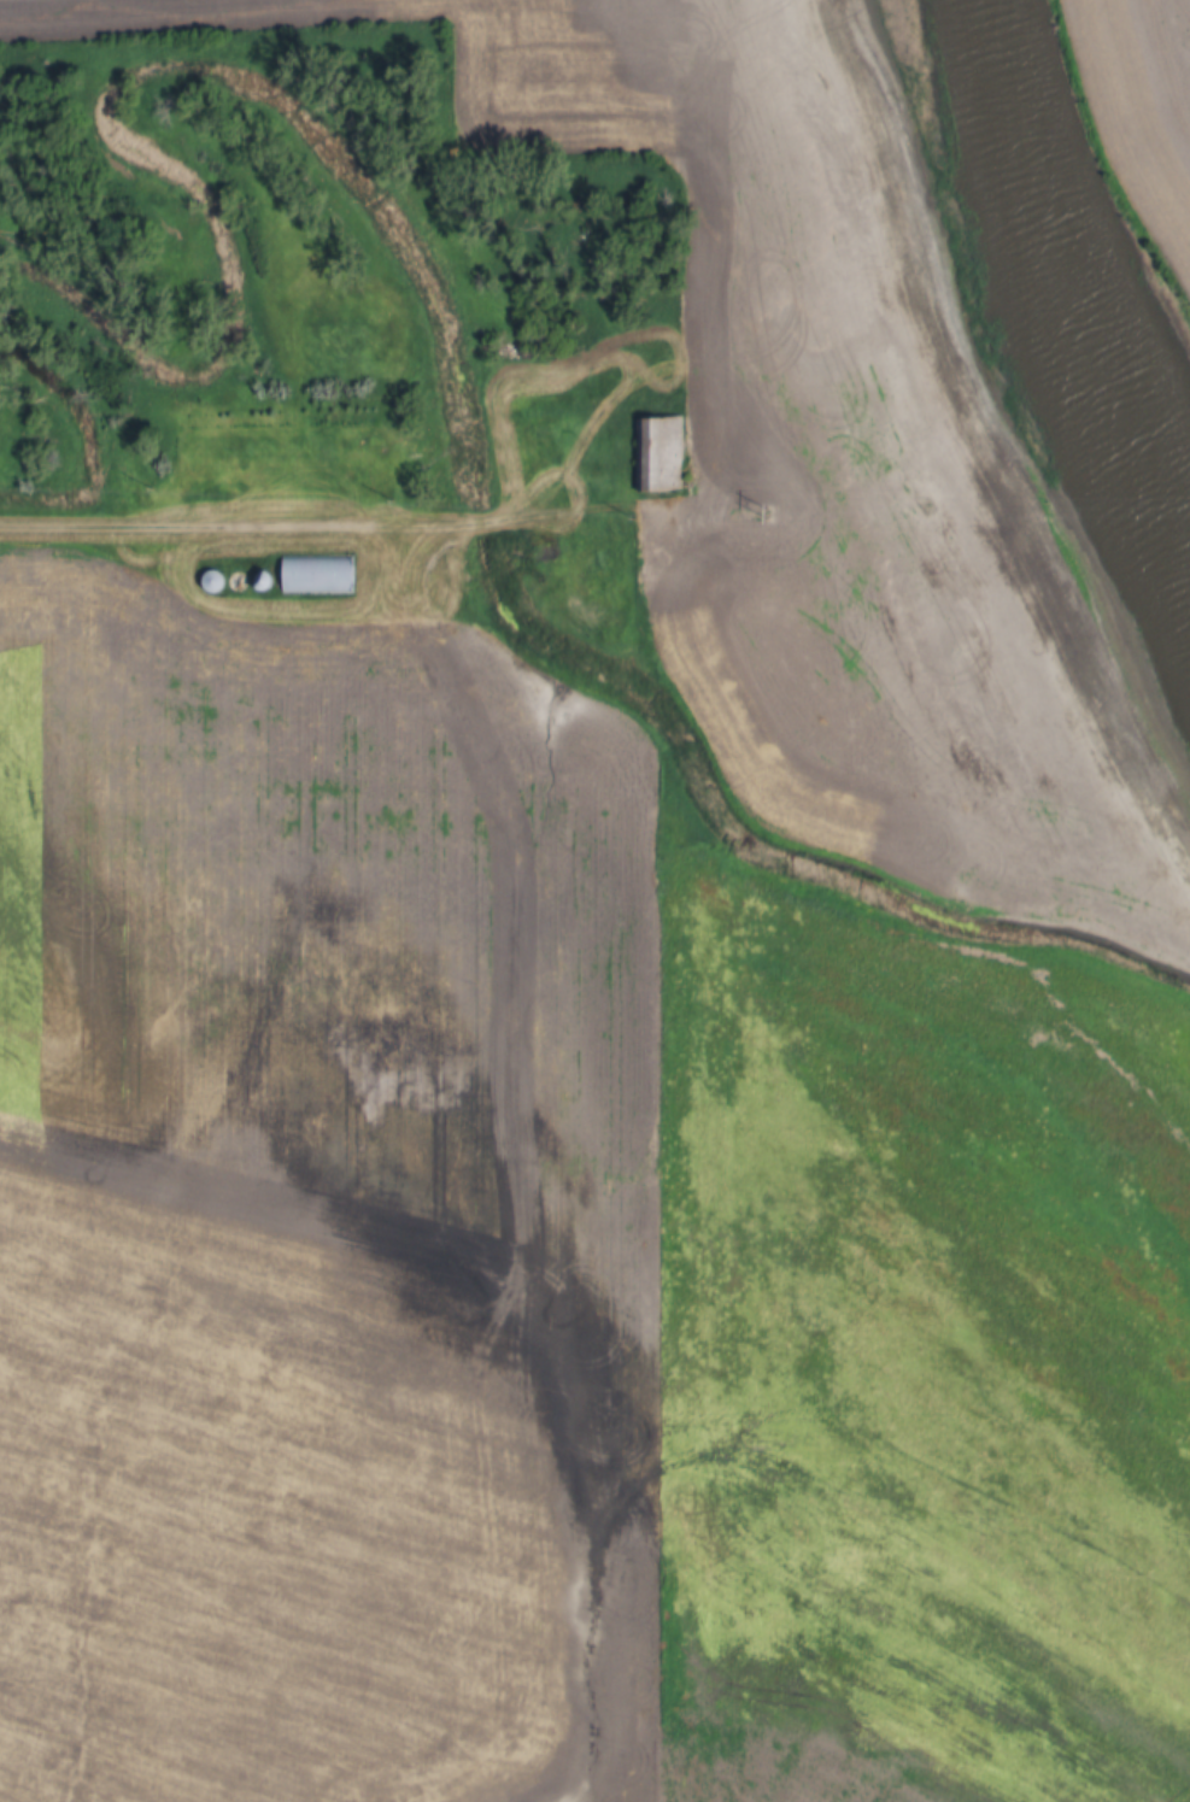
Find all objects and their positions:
river: (1074, 269)
building: (653, 453)
road: (309, 529)
building: (311, 574)
building: (206, 581)
building: (252, 581)
road: (734, 876)

